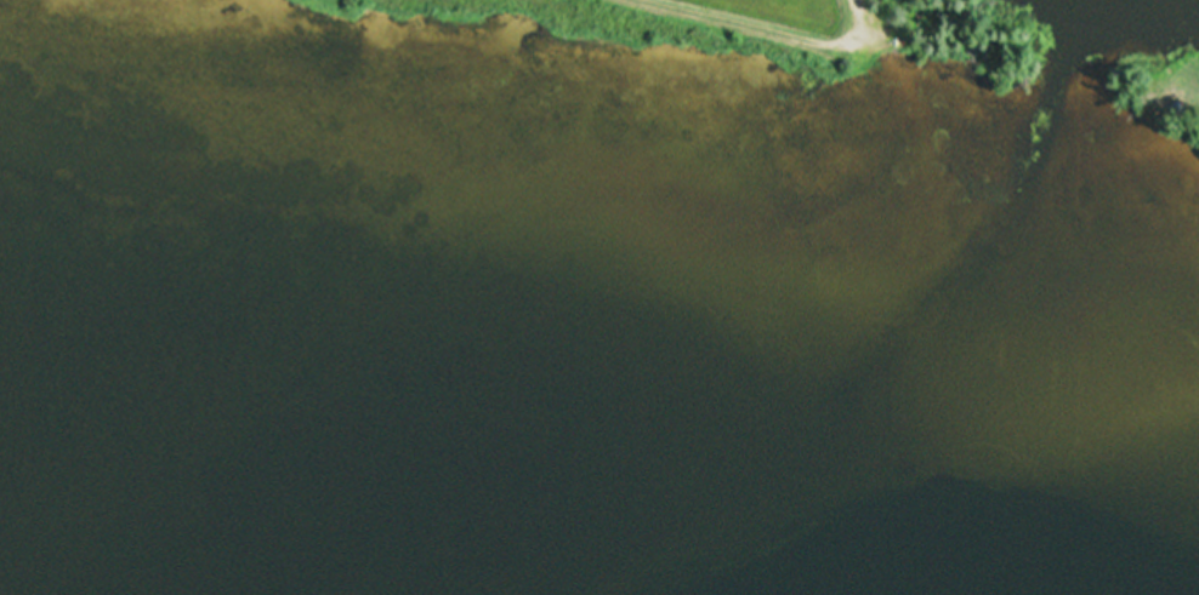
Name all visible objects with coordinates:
crop: (533, 47)
crop: (1183, 154)

